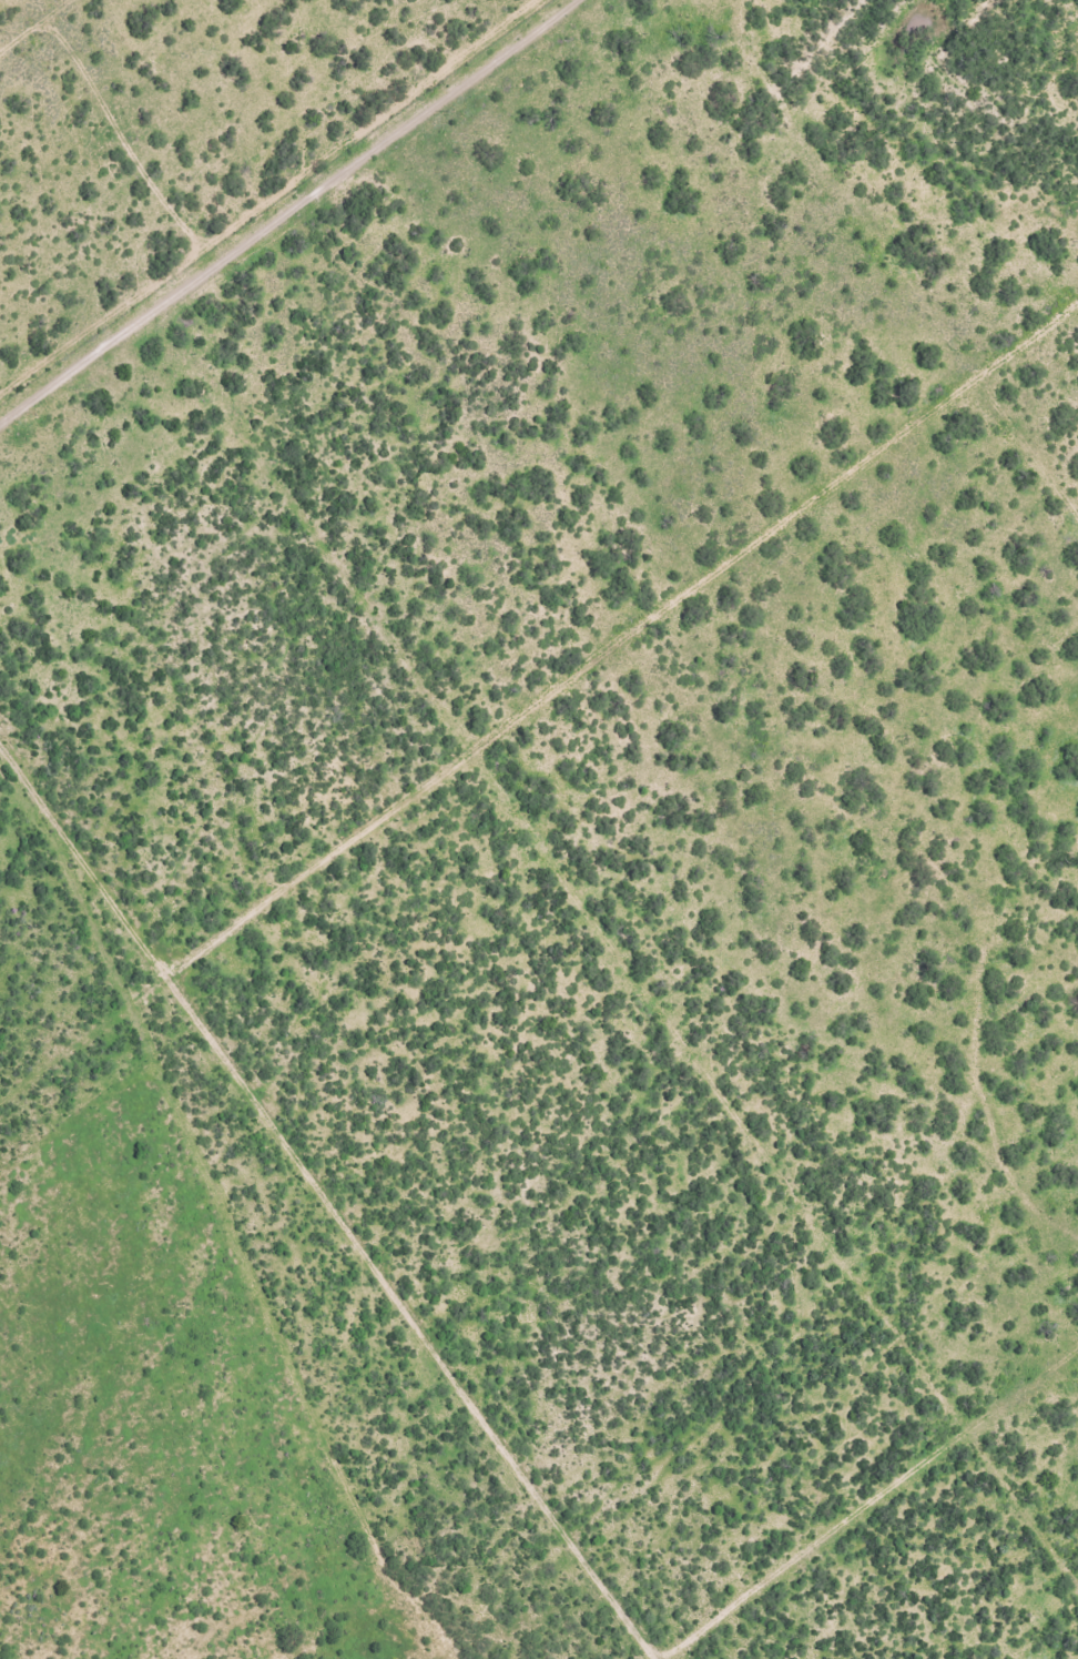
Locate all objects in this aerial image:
road: (317, 236)

